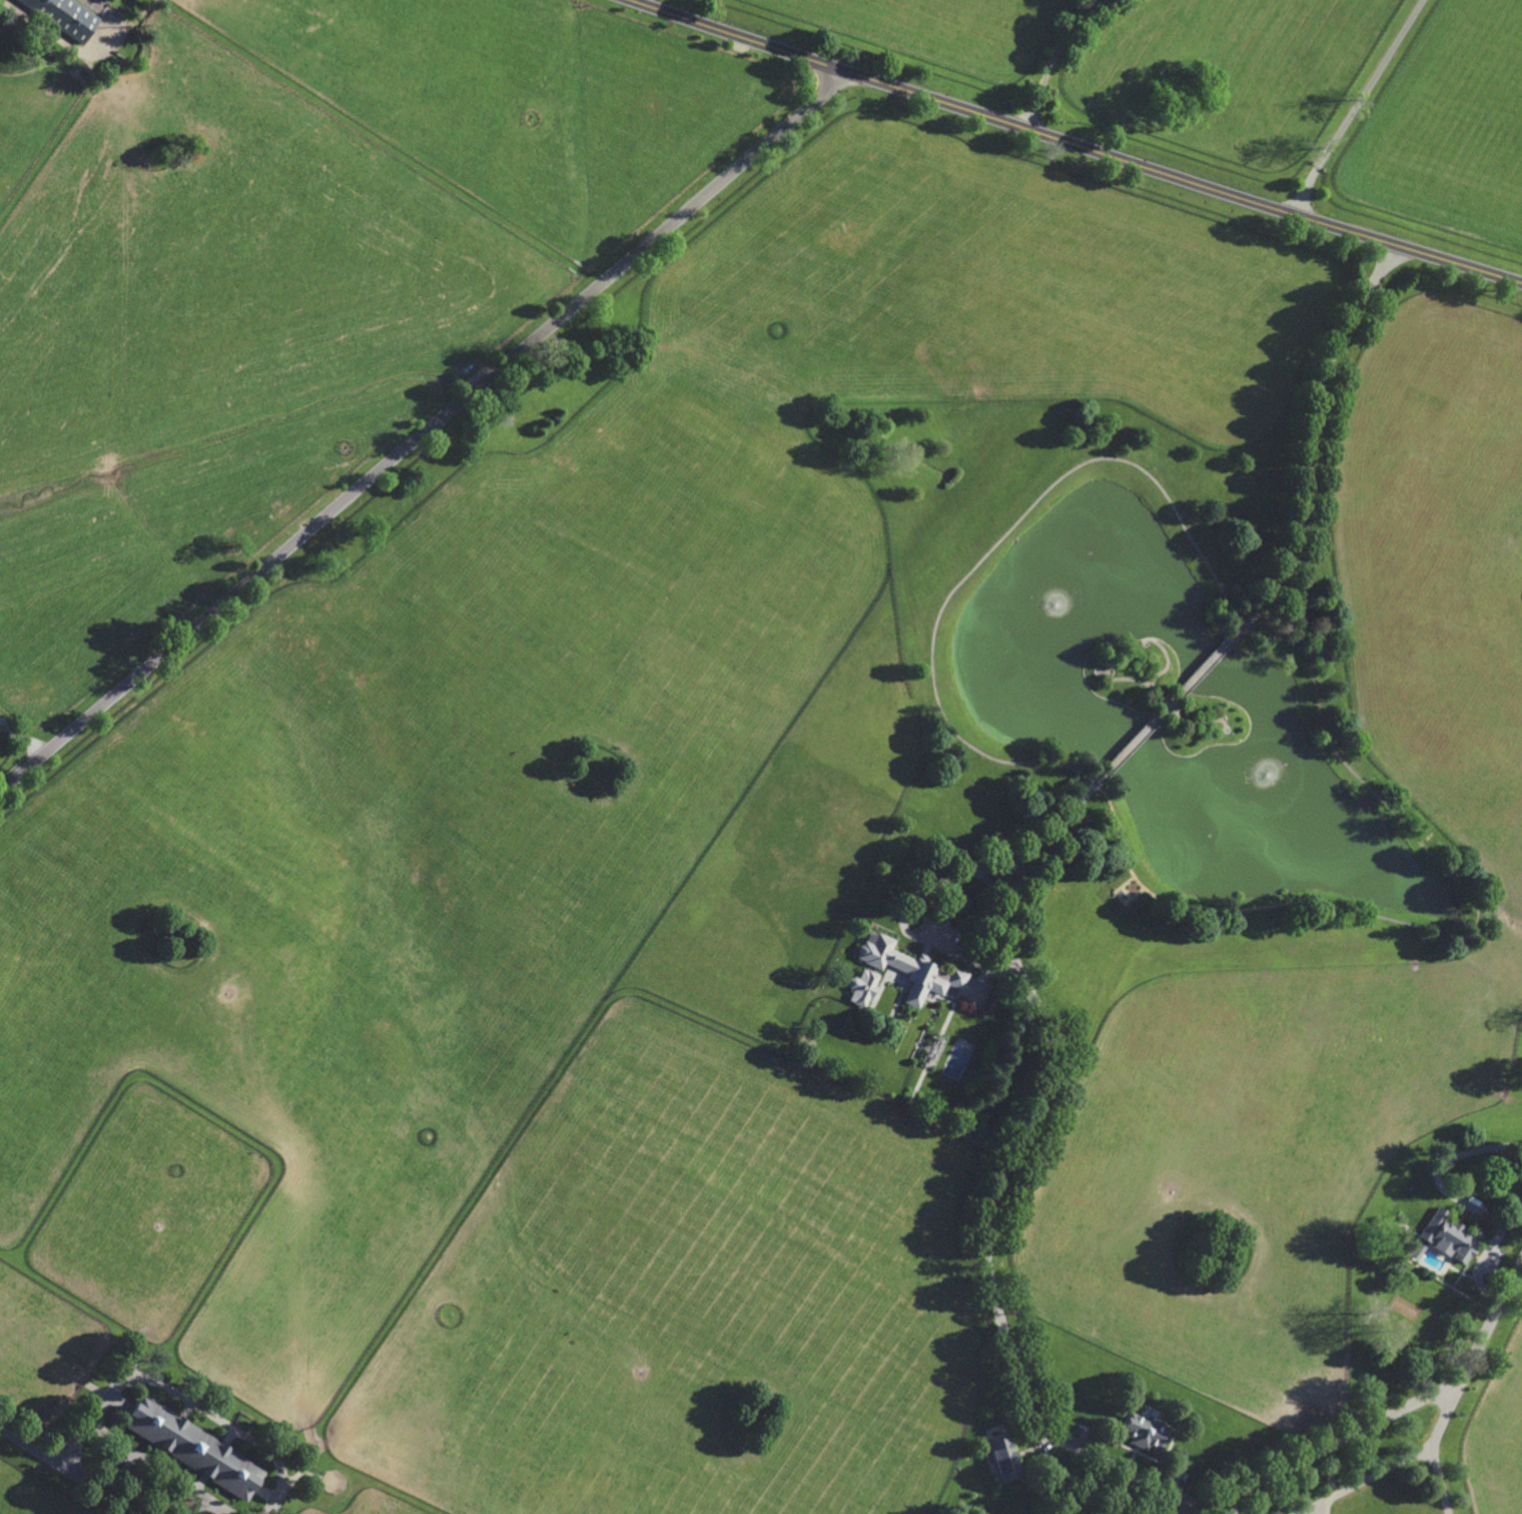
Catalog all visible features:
building: (65, 16)
road: (1051, 60)
road: (1355, 106)
road: (1077, 145)
road: (426, 432)
road: (1185, 685)
road: (23, 737)
building: (924, 976)
building: (862, 989)
building: (908, 1042)
building: (1409, 1189)
road: (1459, 1202)
road: (1511, 1221)
building: (1398, 1233)
building: (1447, 1236)
building: (1418, 1249)
road: (993, 1285)
road: (1492, 1314)
road: (183, 1398)
road: (1445, 1414)
building: (1142, 1432)
building: (192, 1446)
road: (1329, 1446)
building: (1004, 1457)
road: (1395, 1467)
road: (162, 1468)
road: (1046, 1468)
road: (70, 1469)
road: (1220, 1509)

